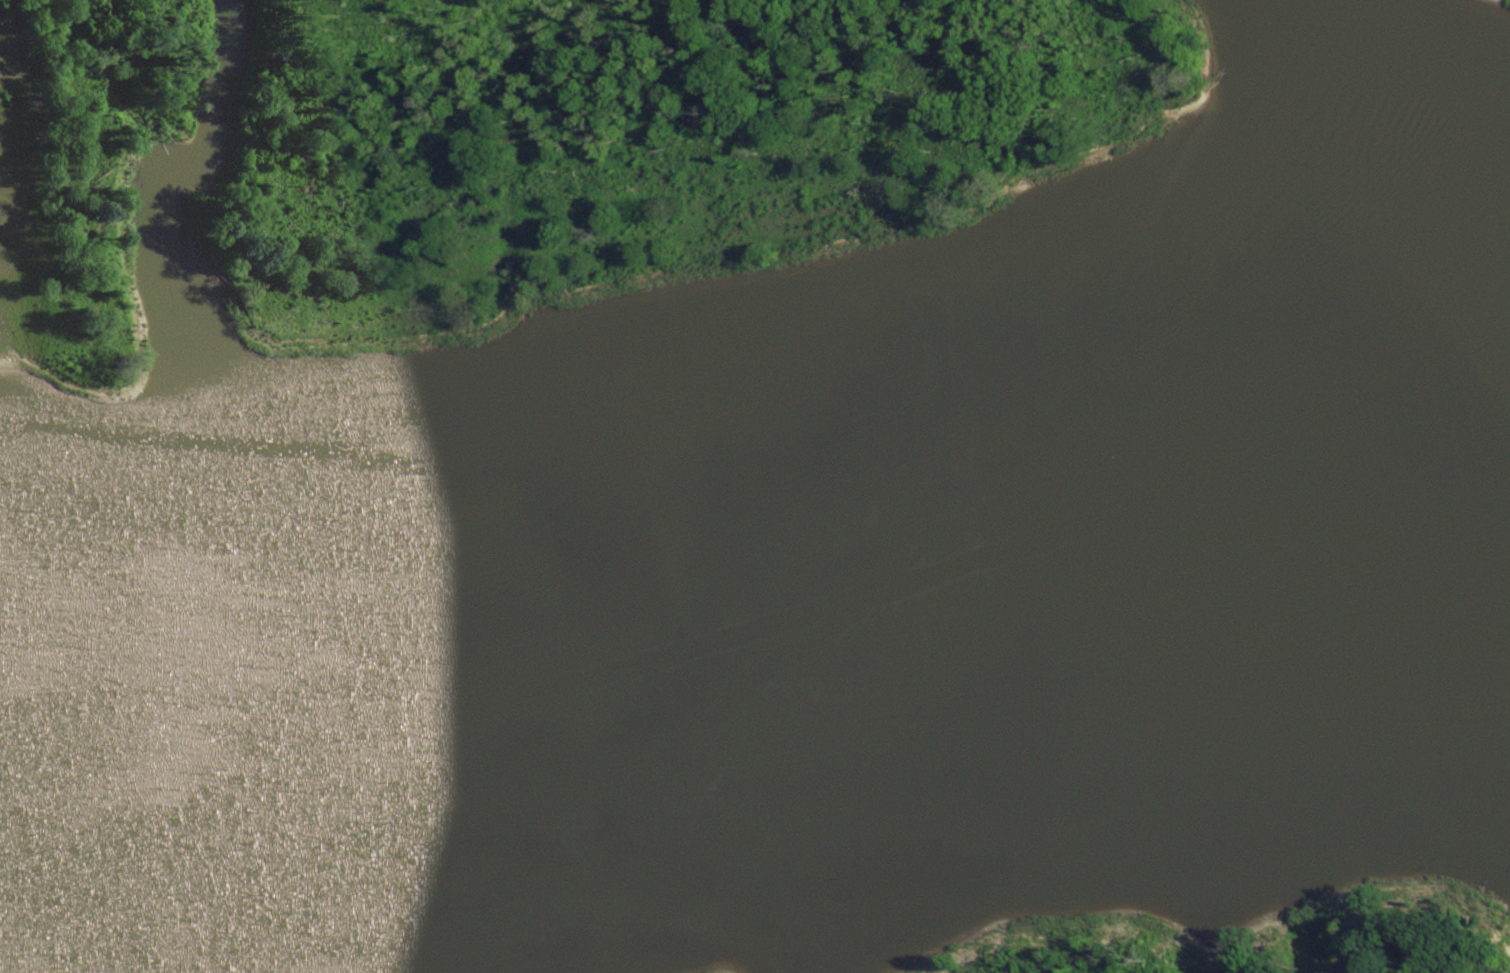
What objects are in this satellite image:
river: (749, 732)

